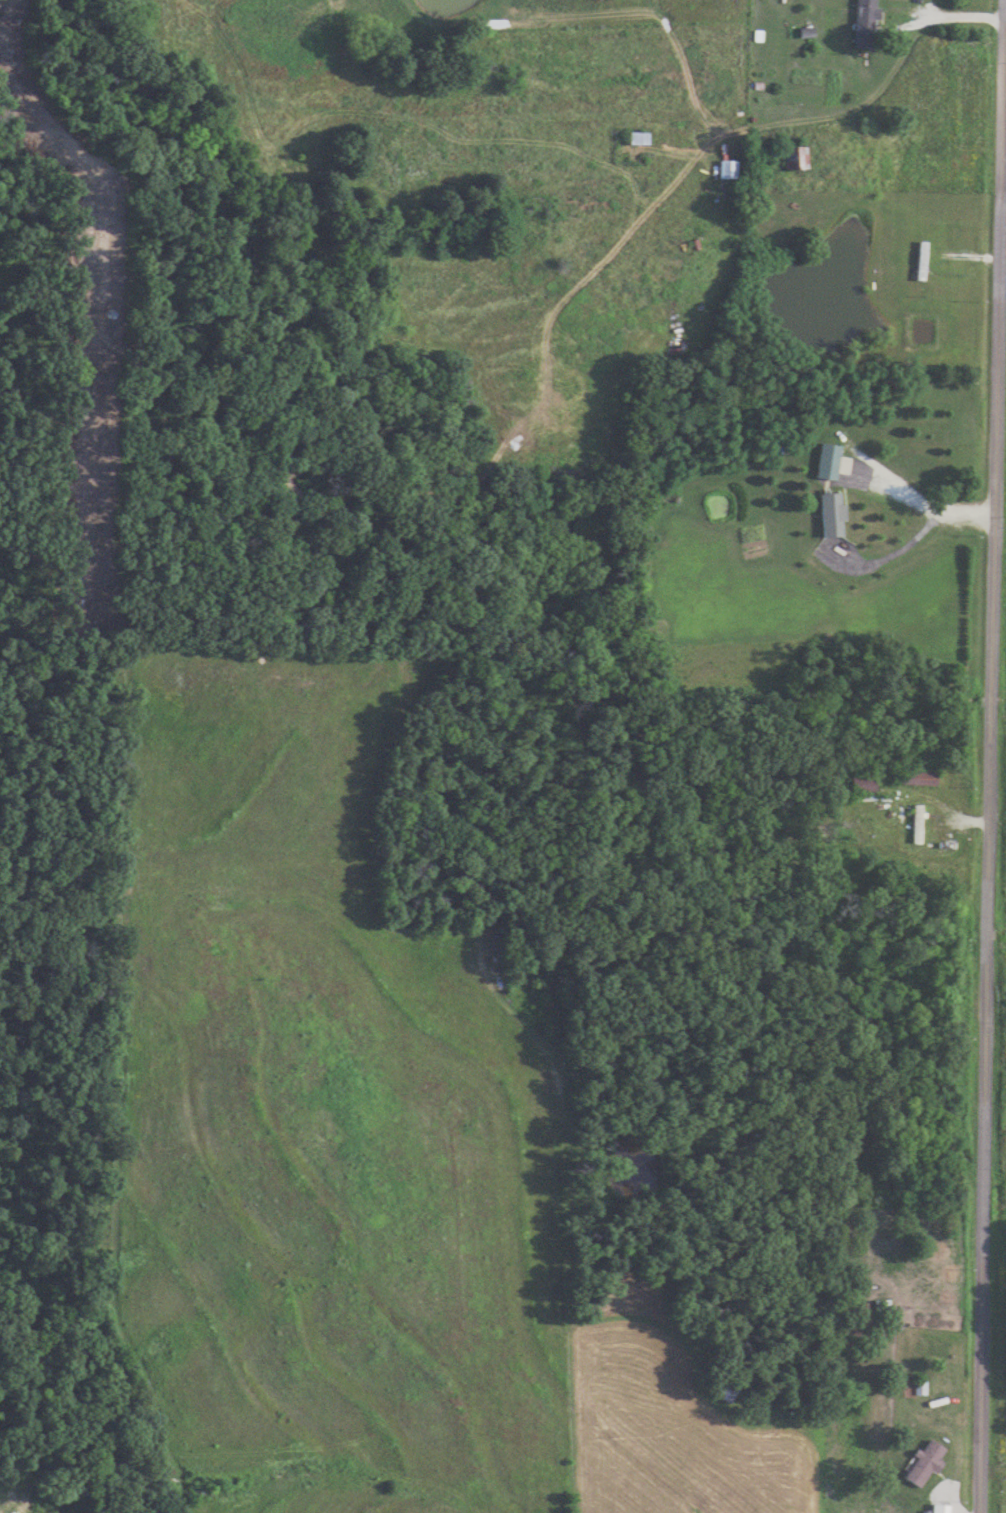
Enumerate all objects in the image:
road: (954, 17)
building: (867, 23)
building: (640, 137)
building: (797, 159)
building: (729, 169)
building: (829, 461)
road: (922, 500)
building: (834, 515)
building: (918, 824)
road: (993, 829)
building: (926, 1462)
building: (941, 1508)

